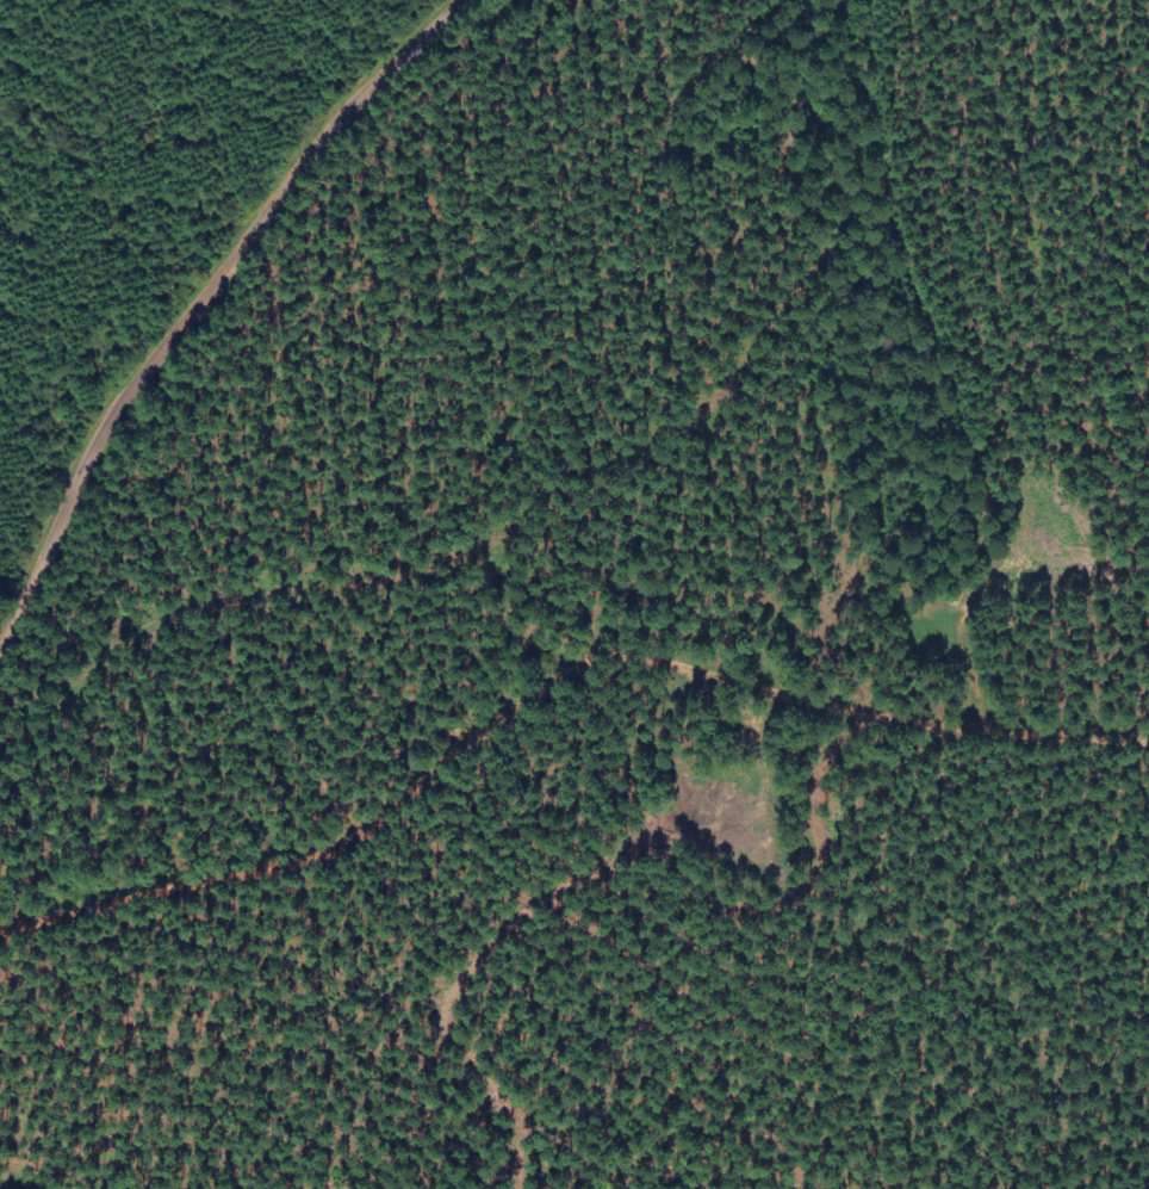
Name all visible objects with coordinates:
road: (225, 302)

